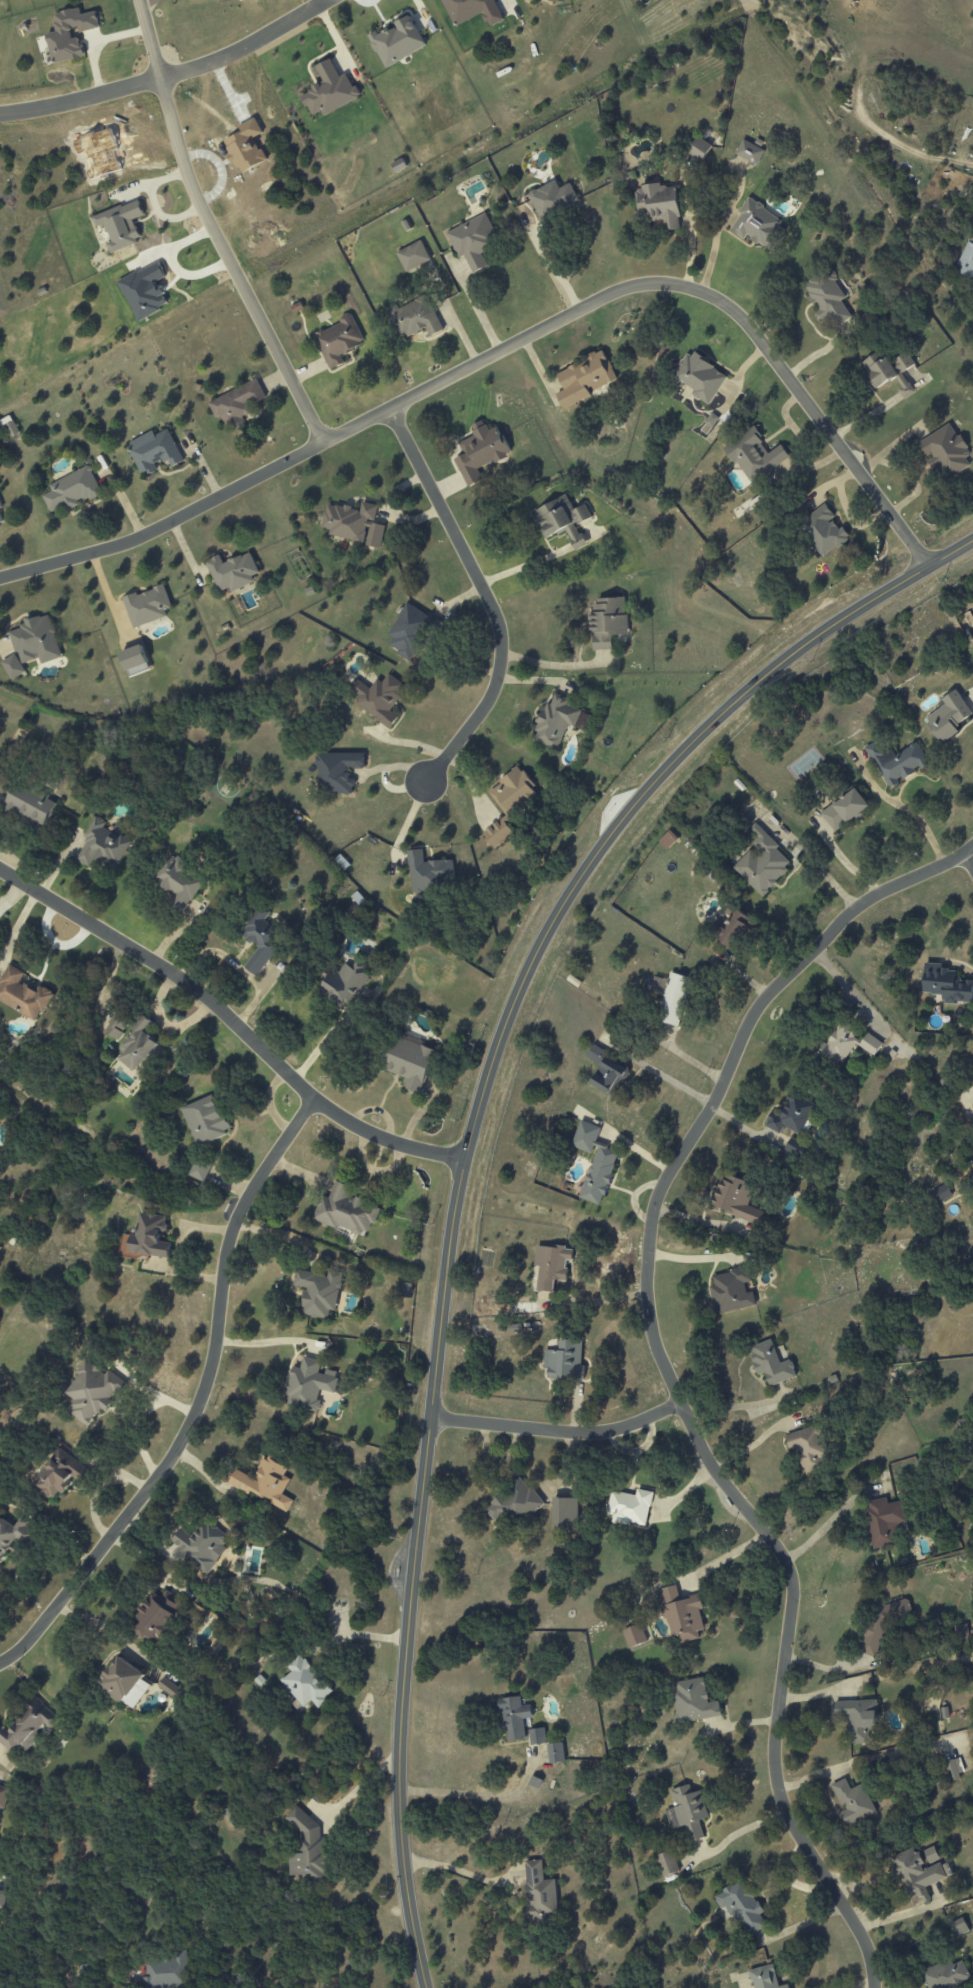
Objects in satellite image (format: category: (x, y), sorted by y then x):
building: (475, 9)
building: (69, 34)
building: (400, 40)
road: (169, 72)
building: (329, 91)
building: (700, 148)
building: (749, 152)
building: (552, 199)
building: (659, 204)
building: (755, 223)
building: (120, 225)
road: (211, 228)
building: (473, 242)
building: (413, 256)
building: (966, 261)
road: (548, 265)
building: (828, 296)
building: (414, 318)
building: (338, 340)
road: (511, 344)
building: (889, 371)
building: (696, 376)
building: (584, 378)
building: (236, 404)
building: (8, 427)
building: (945, 450)
building: (153, 451)
building: (480, 452)
building: (754, 454)
building: (71, 490)
building: (0, 505)
building: (562, 520)
building: (1, 521)
building: (353, 524)
building: (823, 530)
building: (234, 570)
road: (486, 596)
building: (149, 604)
building: (607, 621)
building: (407, 629)
building: (36, 641)
building: (135, 661)
building: (13, 667)
building: (376, 696)
building: (947, 716)
building: (559, 721)
building: (895, 761)
building: (337, 771)
building: (508, 803)
building: (29, 805)
building: (844, 809)
road: (916, 823)
building: (667, 840)
building: (102, 846)
building: (762, 862)
road: (846, 862)
road: (968, 862)
road: (817, 864)
building: (427, 872)
building: (179, 882)
building: (262, 937)
building: (345, 984)
building: (946, 984)
road: (846, 988)
building: (22, 994)
building: (671, 997)
road: (231, 1020)
road: (317, 1041)
building: (848, 1044)
building: (139, 1045)
building: (411, 1062)
building: (607, 1071)
road: (663, 1075)
building: (792, 1115)
building: (205, 1120)
building: (796, 1148)
road: (462, 1162)
building: (594, 1162)
building: (199, 1171)
building: (972, 1176)
building: (941, 1193)
building: (735, 1198)
building: (345, 1211)
building: (147, 1238)
road: (692, 1256)
building: (551, 1266)
building: (731, 1290)
building: (319, 1292)
road: (593, 1299)
road: (264, 1341)
building: (566, 1361)
building: (771, 1363)
road: (667, 1377)
building: (310, 1384)
building: (92, 1391)
road: (198, 1400)
road: (738, 1405)
road: (649, 1417)
road: (524, 1426)
road: (756, 1441)
building: (807, 1449)
building: (62, 1470)
building: (265, 1483)
building: (511, 1504)
building: (630, 1507)
building: (564, 1514)
road: (833, 1516)
building: (883, 1521)
building: (14, 1534)
building: (204, 1543)
road: (724, 1558)
building: (157, 1615)
building: (681, 1615)
building: (634, 1636)
building: (123, 1677)
building: (305, 1683)
building: (169, 1687)
building: (693, 1701)
building: (514, 1718)
building: (858, 1718)
building: (27, 1726)
building: (537, 1736)
building: (555, 1753)
building: (954, 1768)
road: (480, 1794)
building: (2, 1799)
building: (853, 1802)
building: (686, 1812)
building: (307, 1849)
building: (930, 1855)
building: (667, 1864)
building: (918, 1874)
building: (539, 1894)
building: (2, 1899)
building: (958, 1927)
building: (162, 1972)
building: (945, 1974)
building: (764, 1977)
road: (857, 1984)

